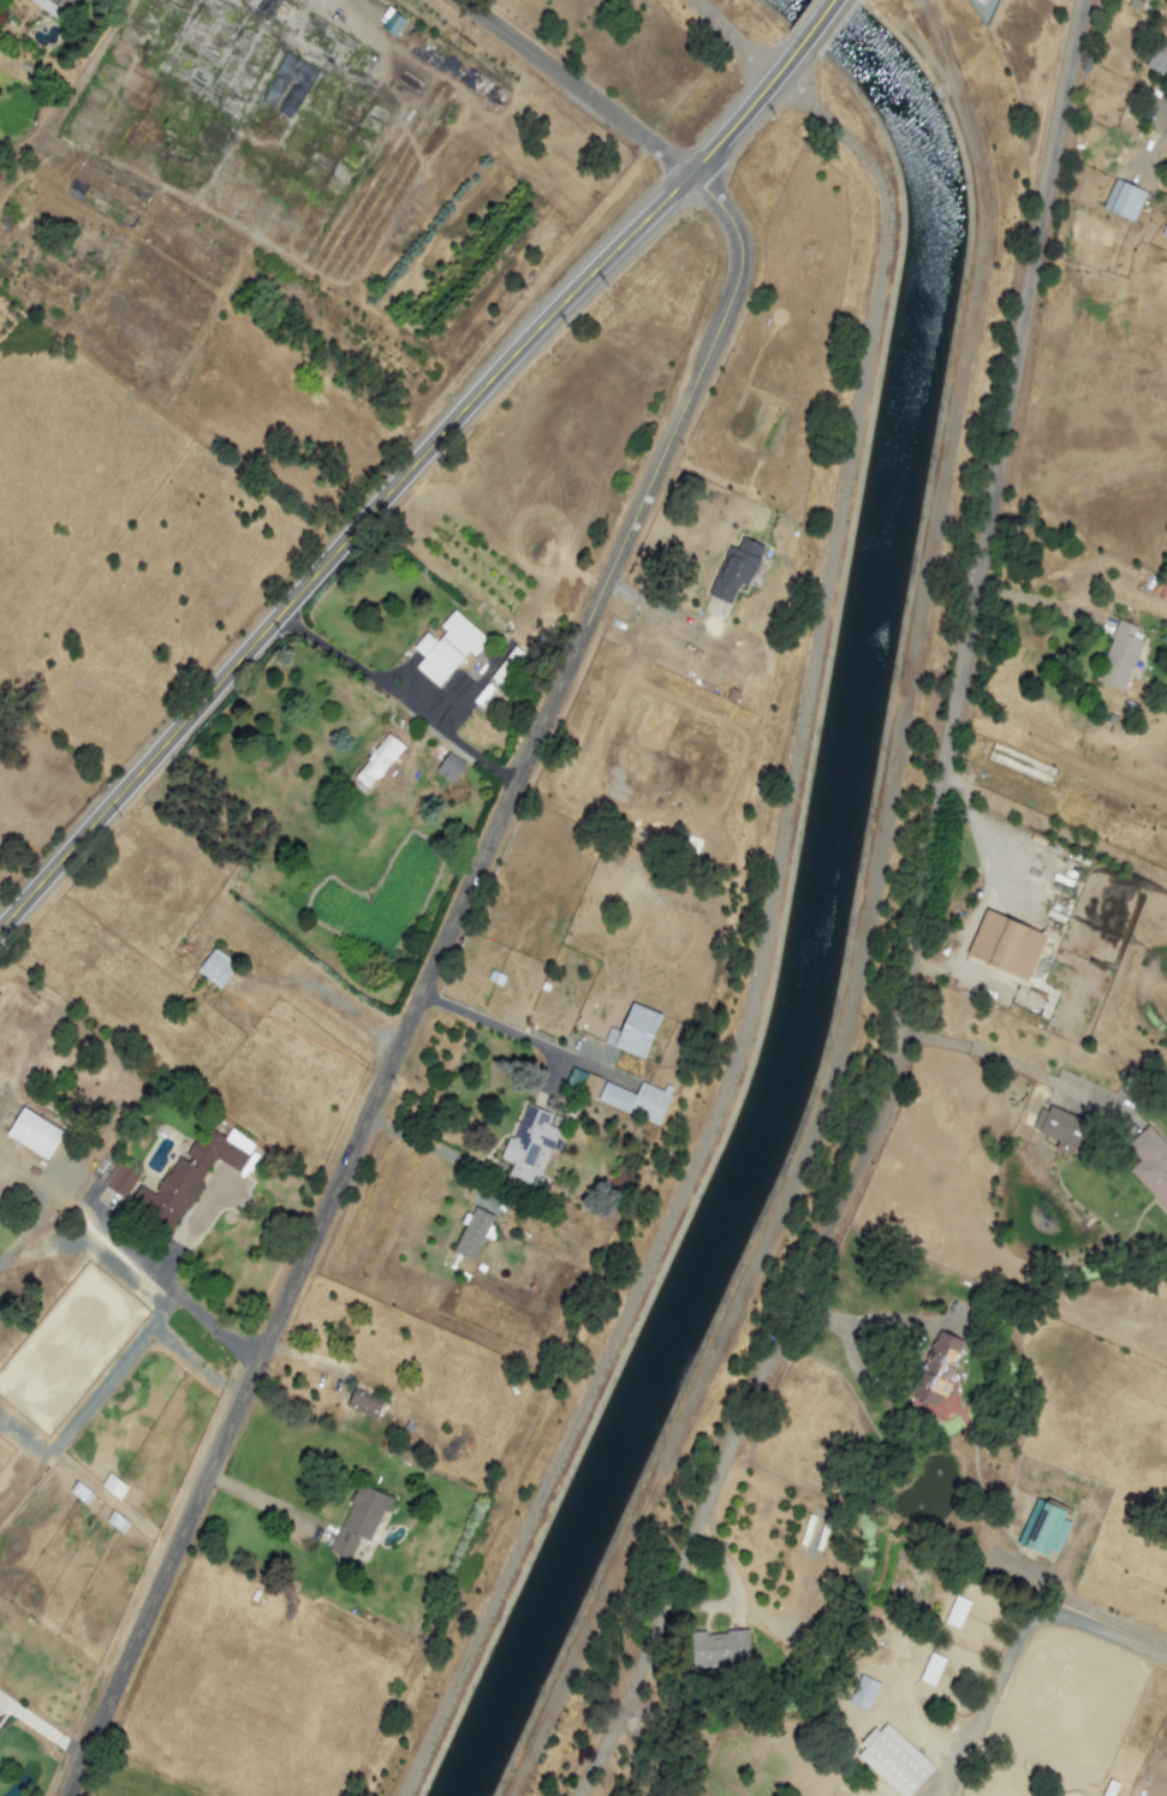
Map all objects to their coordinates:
building: (52, 6)
road: (821, 19)
building: (1159, 58)
road: (577, 87)
road: (1159, 126)
building: (1124, 200)
road: (400, 483)
road: (993, 486)
building: (736, 570)
road: (1032, 600)
building: (447, 647)
building: (1119, 656)
building: (377, 761)
building: (1024, 763)
building: (1005, 945)
road: (425, 980)
road: (322, 994)
road: (508, 1029)
building: (633, 1031)
road: (996, 1055)
building: (591, 1086)
building: (636, 1101)
building: (1060, 1129)
building: (34, 1132)
building: (529, 1144)
building: (1150, 1164)
building: (195, 1173)
building: (121, 1181)
building: (475, 1233)
road: (97, 1241)
road: (216, 1327)
building: (937, 1368)
road: (754, 1387)
road: (95, 1394)
building: (364, 1403)
road: (266, 1501)
building: (359, 1520)
building: (1043, 1529)
building: (957, 1612)
road: (1022, 1631)
building: (719, 1648)
building: (931, 1669)
building: (863, 1693)
building: (893, 1760)

